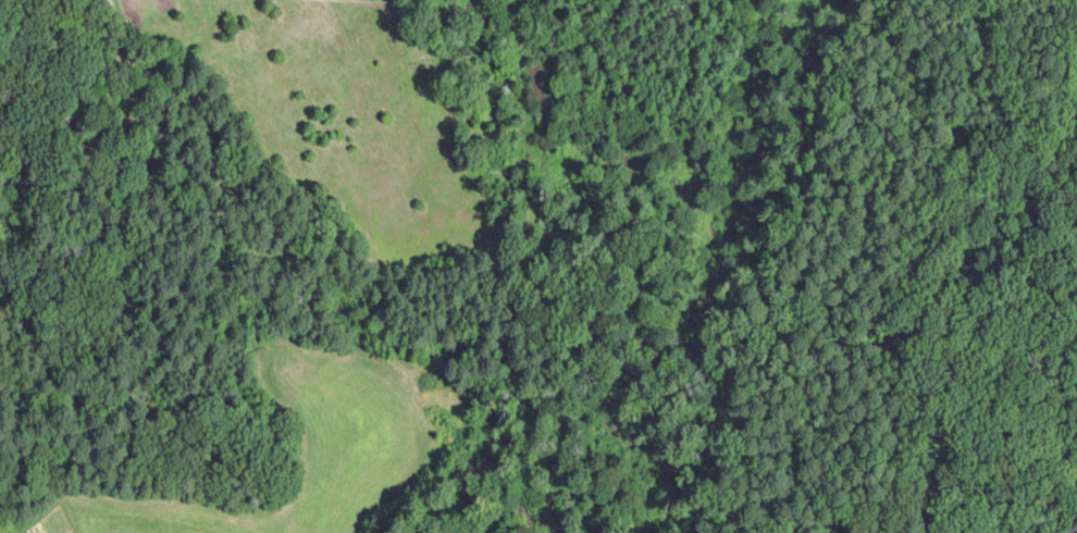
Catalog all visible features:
road: (1053, 501)
road: (1025, 528)
road: (1029, 528)

